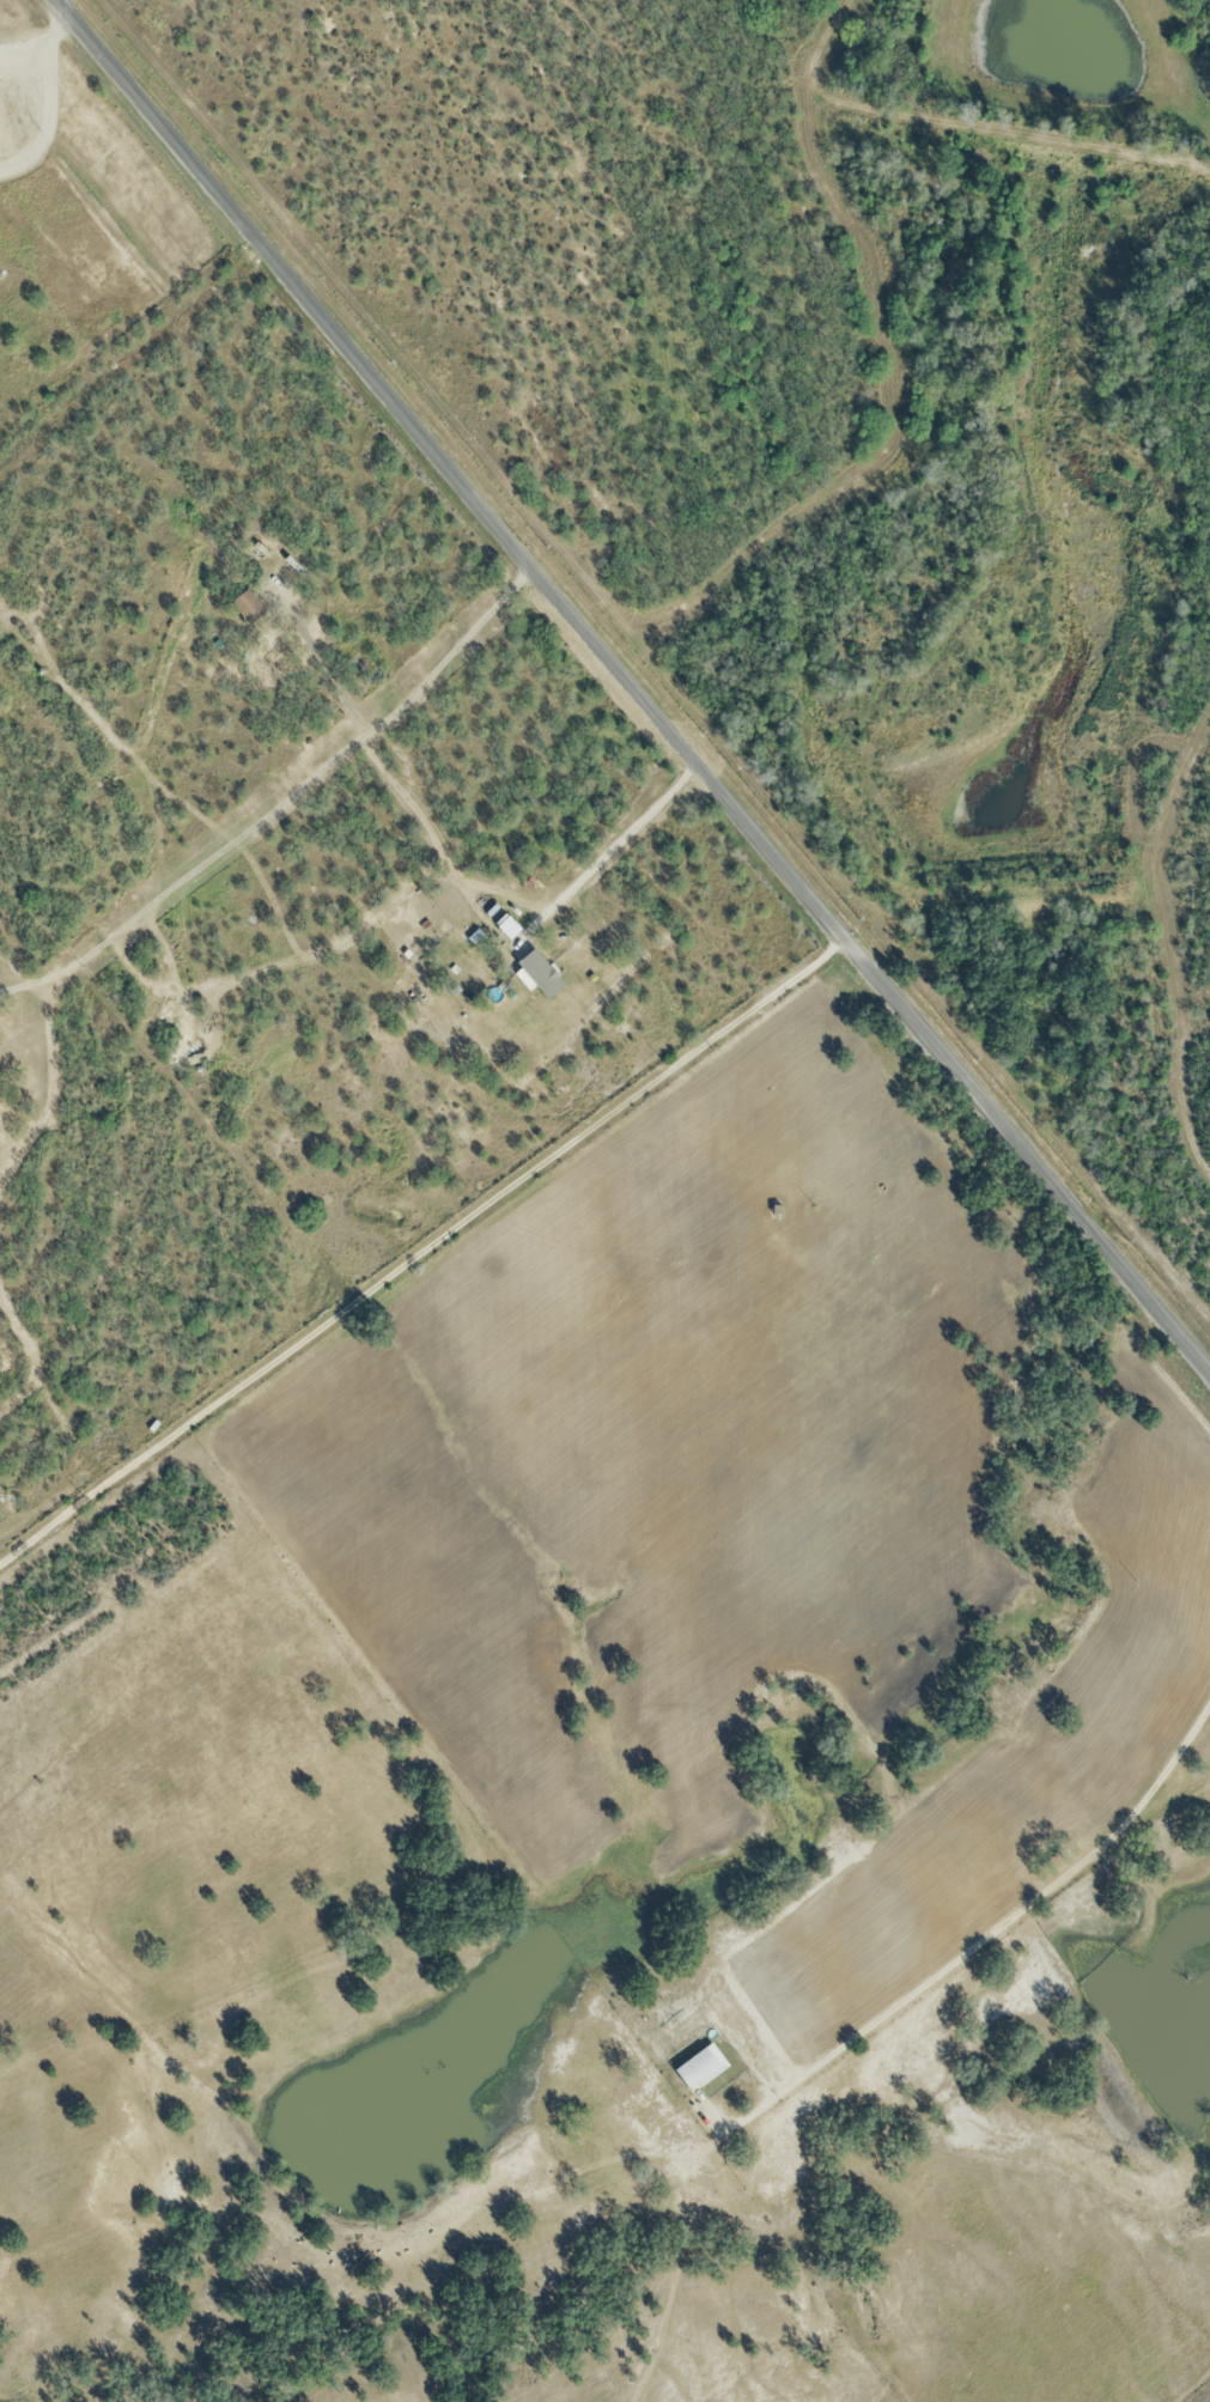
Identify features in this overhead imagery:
road: (43, 42)
road: (460, 468)
building: (249, 609)
road: (332, 677)
road: (286, 801)
road: (618, 846)
road: (341, 941)
road: (159, 948)
building: (541, 975)
road: (1033, 1143)
road: (427, 1252)
road: (874, 2032)

